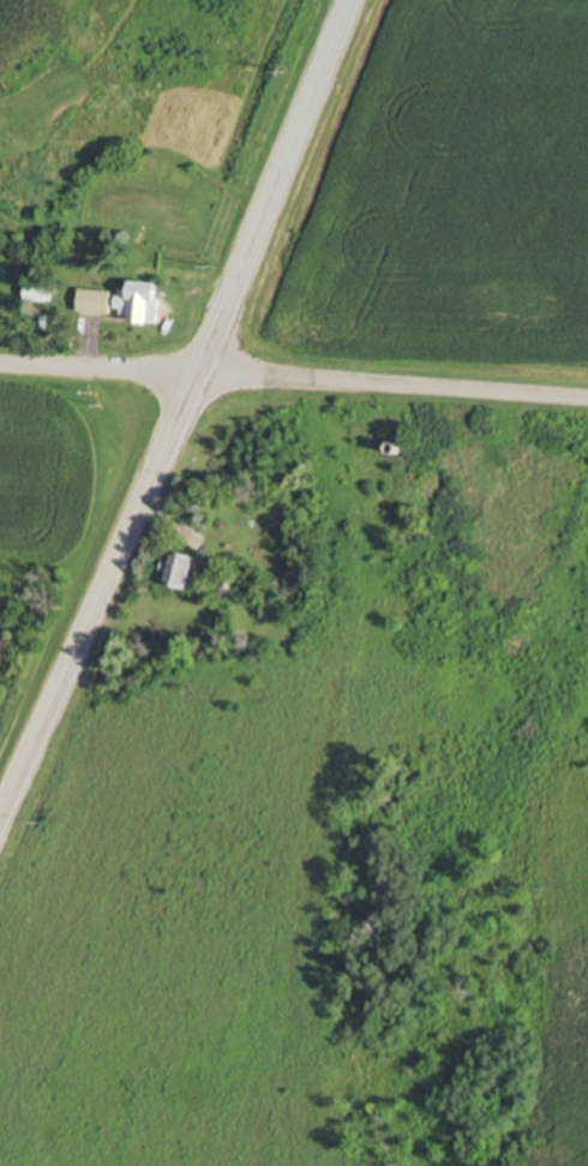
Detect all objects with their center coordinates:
building: (94, 300)
road: (294, 382)
road: (180, 414)

